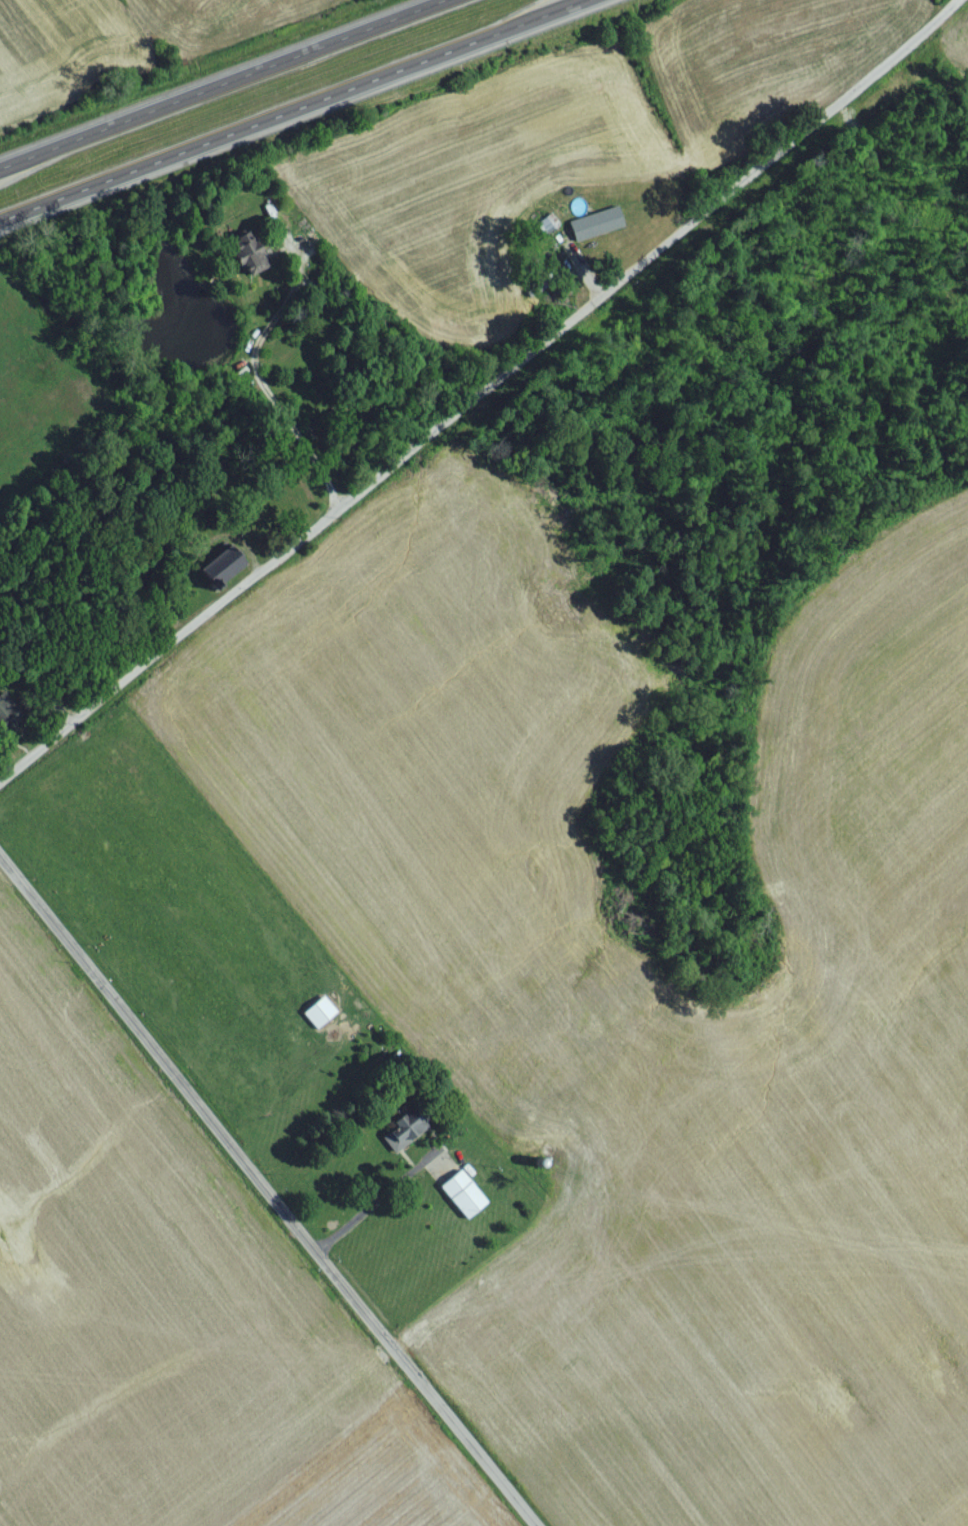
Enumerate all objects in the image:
road: (221, 81)
road: (298, 112)
building: (592, 231)
building: (246, 262)
road: (256, 380)
road: (482, 397)
building: (4, 725)
building: (401, 1135)
road: (268, 1194)
building: (460, 1200)
road: (373, 1203)

